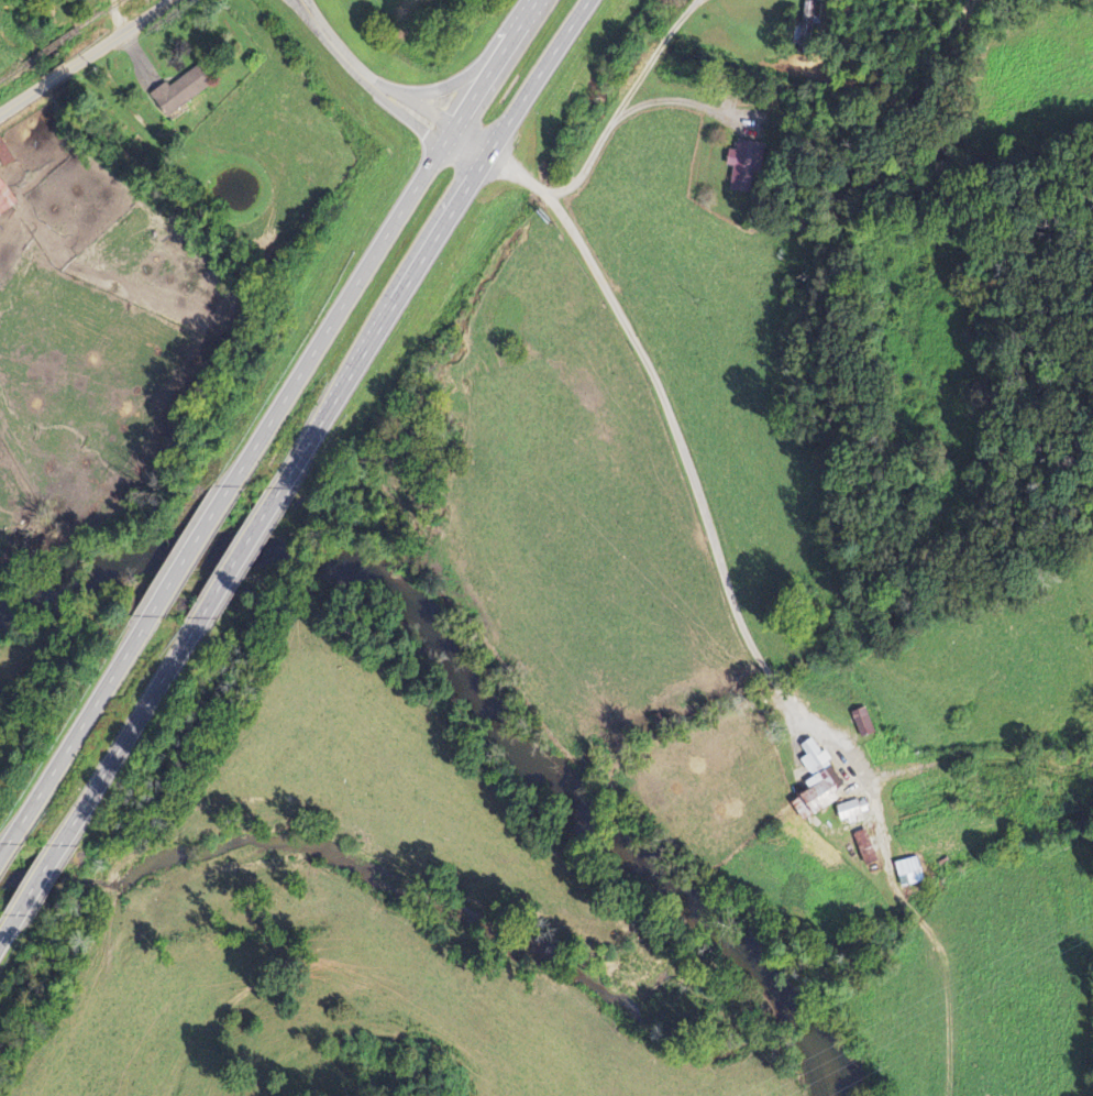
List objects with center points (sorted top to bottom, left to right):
railway: (100, 13)
road: (121, 15)
road: (122, 34)
railway: (52, 46)
road: (497, 65)
railway: (11, 72)
road: (60, 75)
road: (539, 75)
road: (387, 86)
building: (176, 92)
road: (24, 98)
building: (747, 167)
building: (4, 201)
road: (345, 308)
road: (386, 318)
road: (675, 420)
road: (195, 548)
road: (246, 550)
road: (89, 719)
road: (142, 721)
building: (861, 723)
building: (814, 783)
building: (849, 811)
road: (12, 844)
building: (862, 848)
building: (906, 873)
road: (42, 880)
river: (474, 924)
road: (3, 939)

